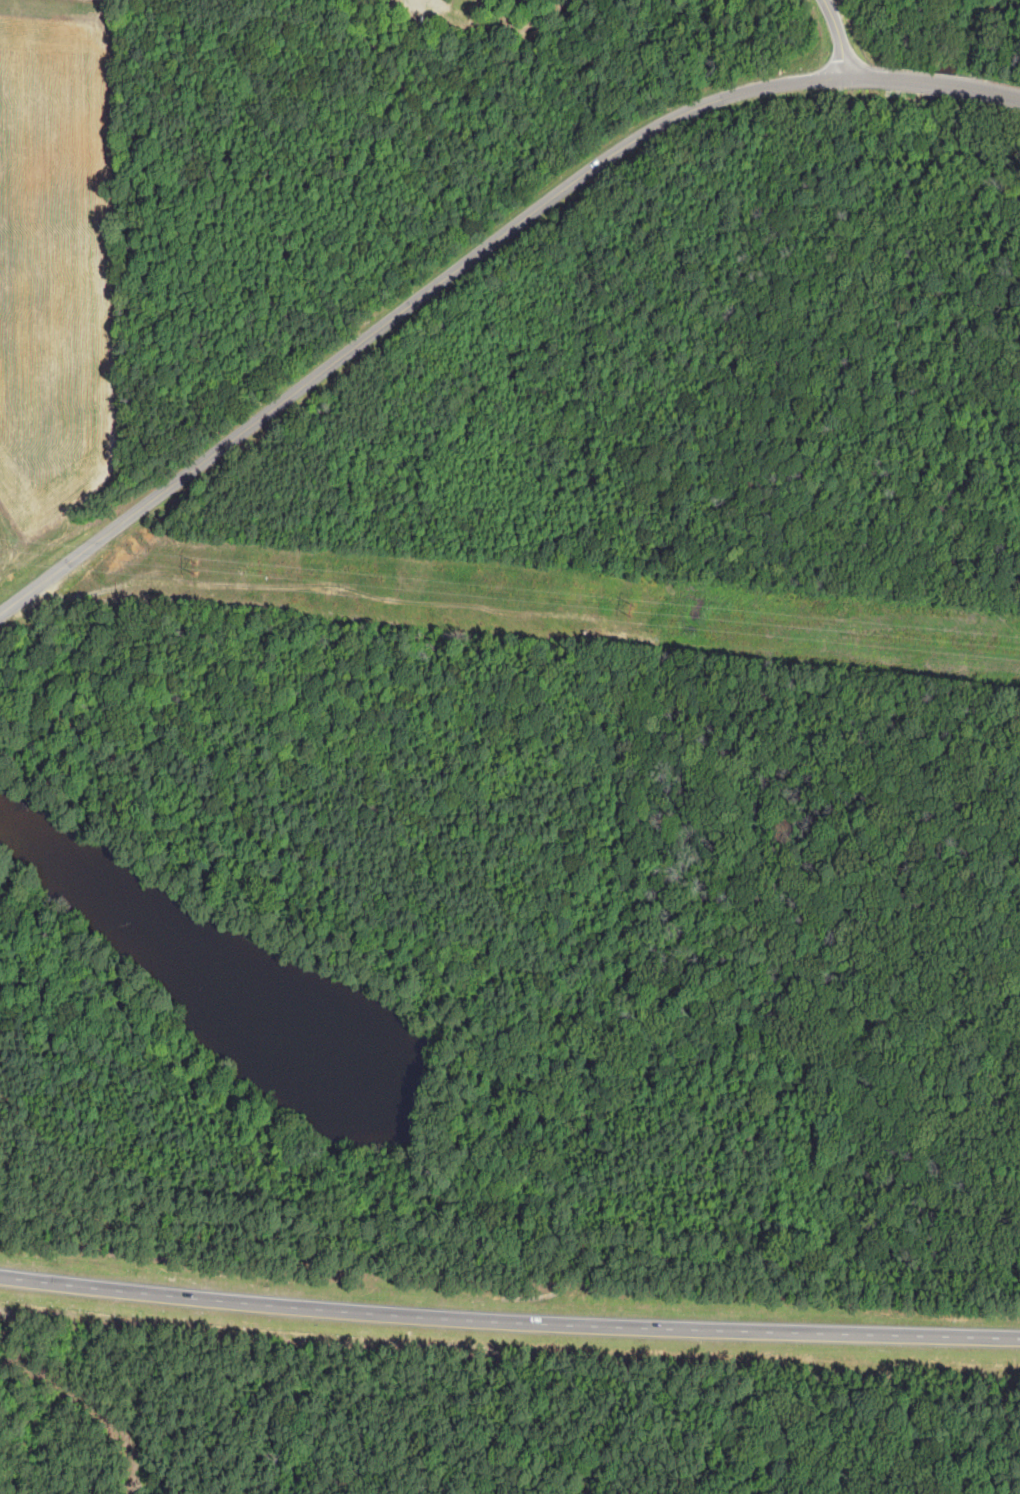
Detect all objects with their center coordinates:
road: (837, 35)
road: (479, 260)
power tower: (54, 575)
road: (509, 1323)

